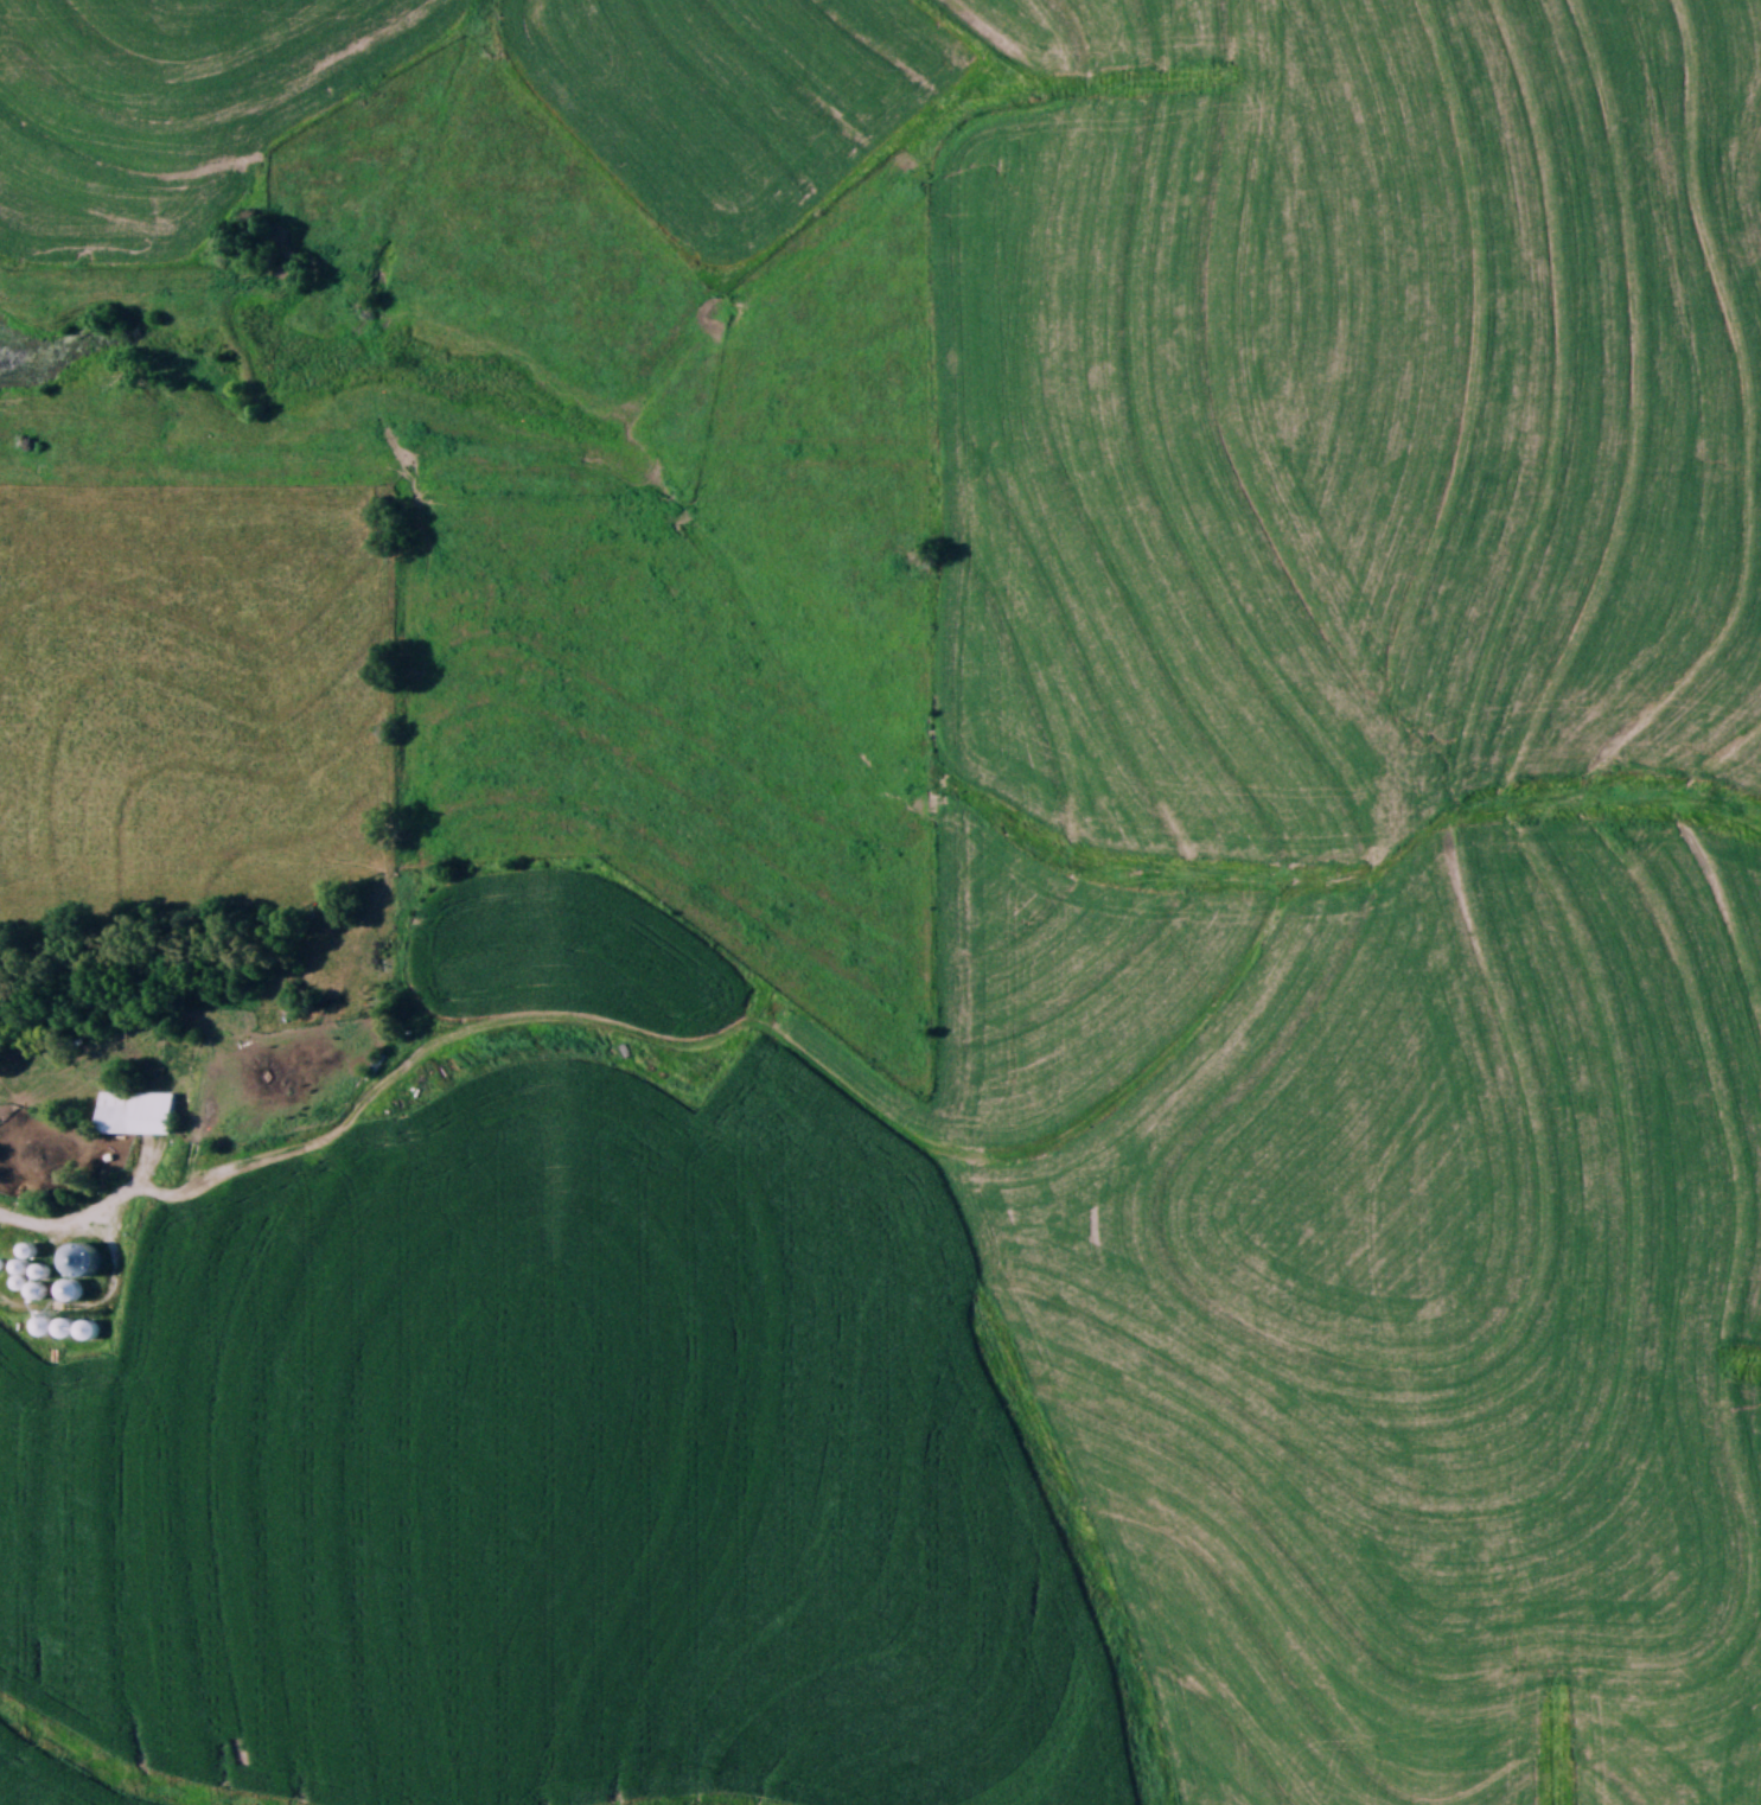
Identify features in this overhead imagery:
building: (140, 1112)
road: (88, 1218)
building: (89, 1259)
building: (74, 1289)
building: (45, 1325)
building: (90, 1325)

